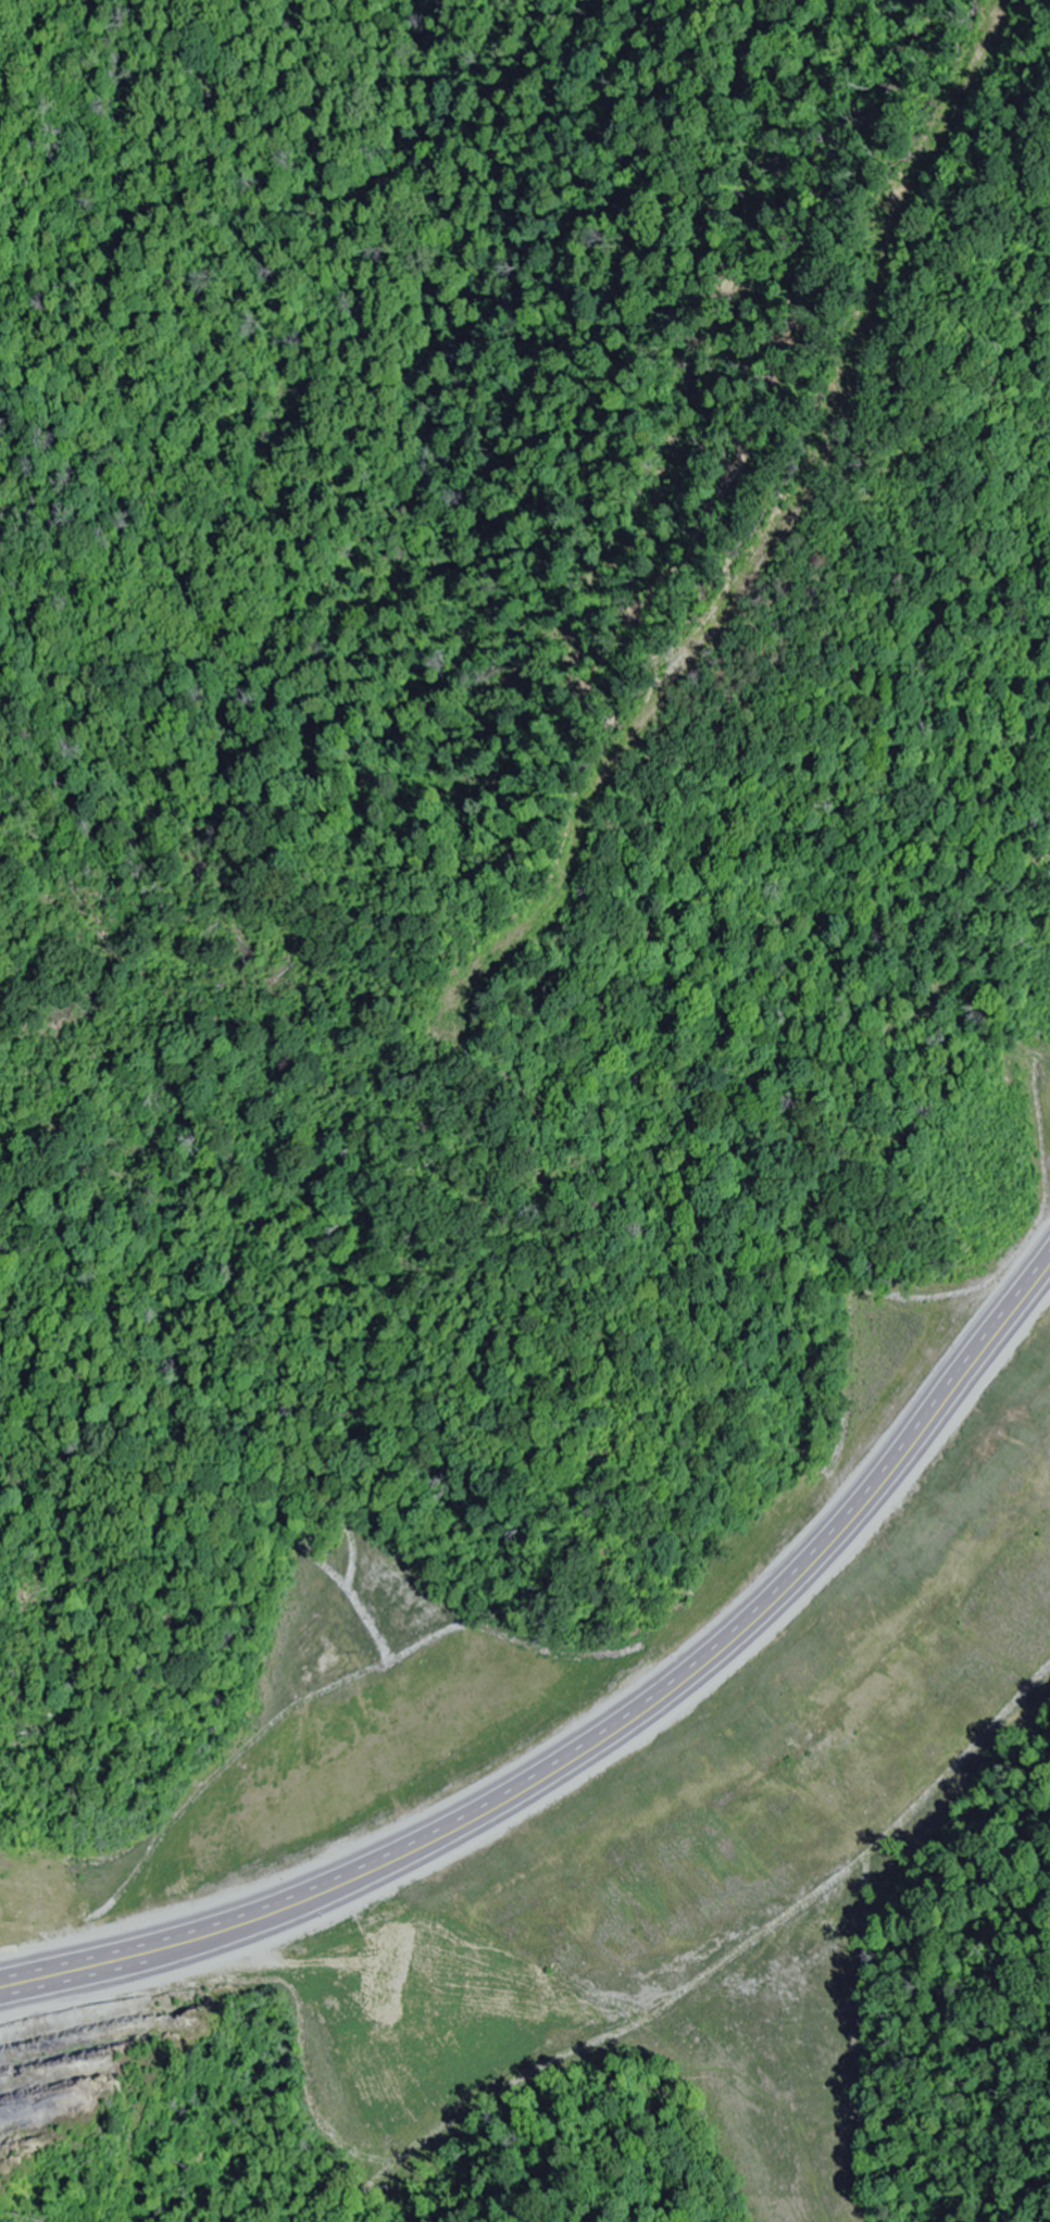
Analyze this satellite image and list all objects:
road: (602, 1733)

